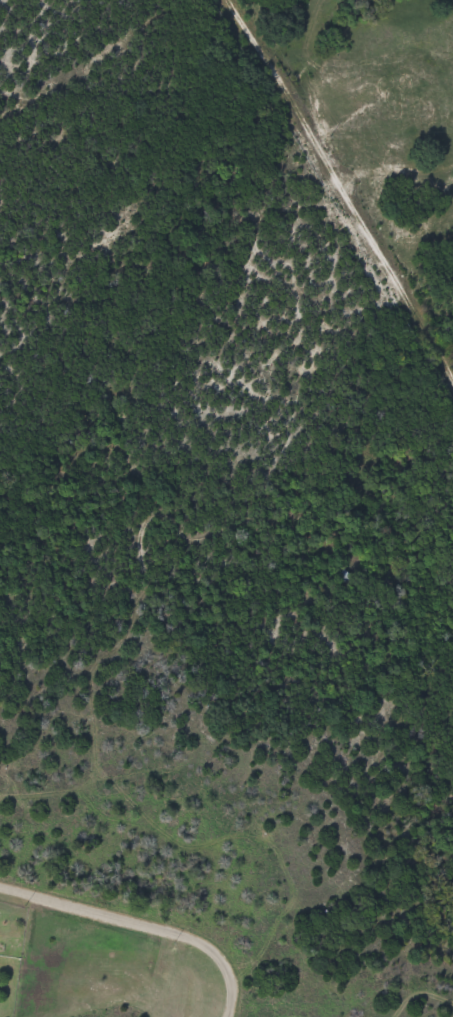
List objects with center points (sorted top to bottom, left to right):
road: (143, 928)
road: (392, 986)

